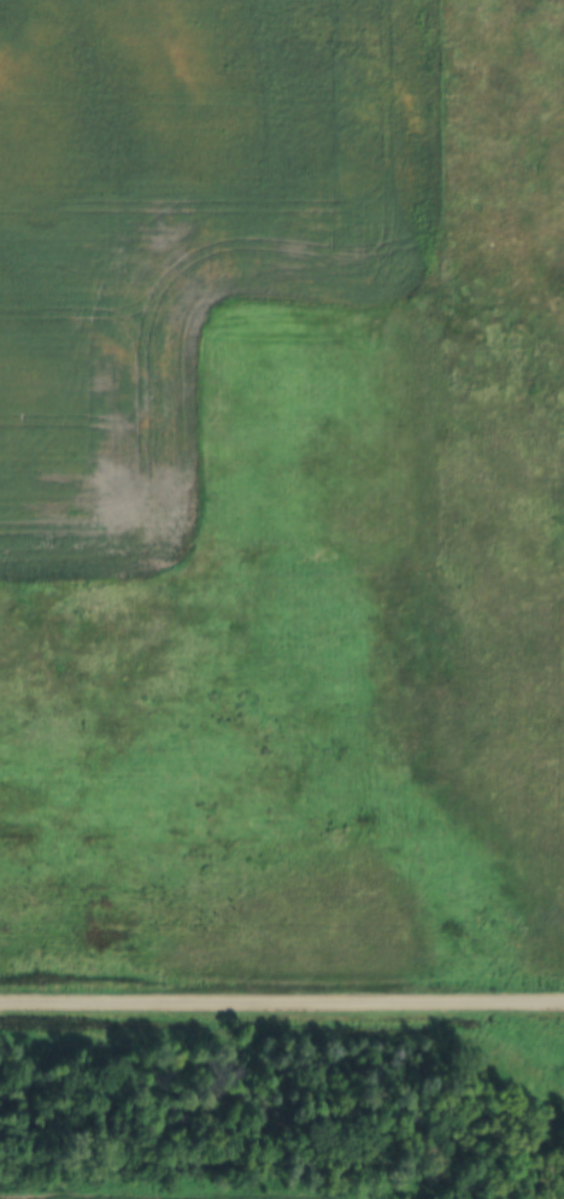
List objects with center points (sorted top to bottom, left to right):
road: (282, 1002)

